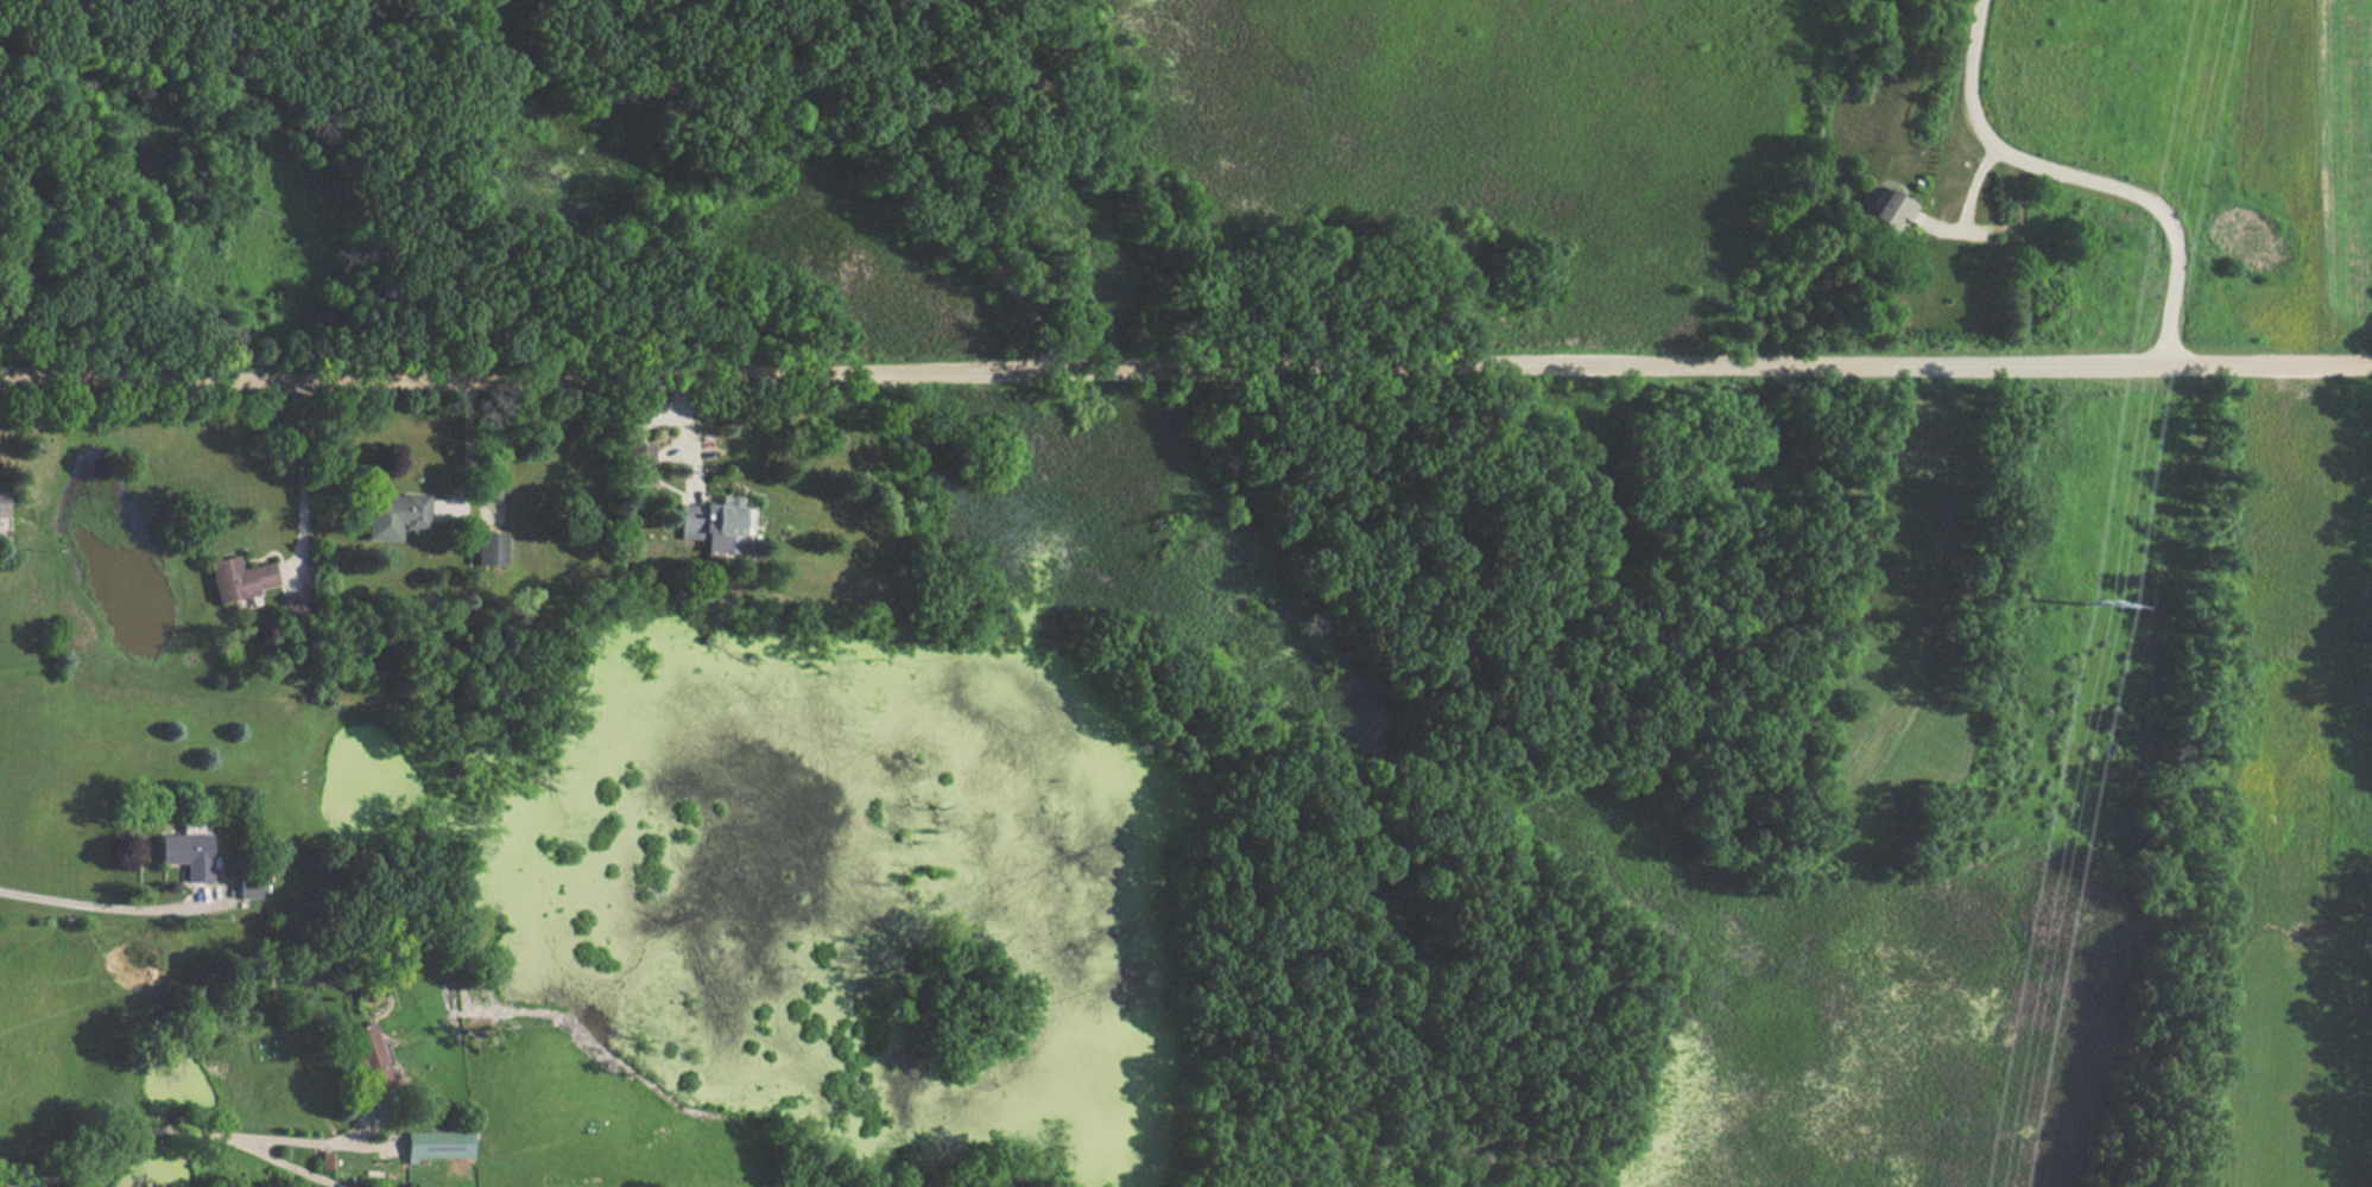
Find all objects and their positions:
road: (367, 5)
road: (2079, 176)
road: (1963, 191)
road: (960, 195)
building: (1880, 211)
road: (1914, 217)
road: (1924, 224)
road: (1185, 370)
building: (631, 462)
road: (303, 471)
building: (392, 515)
building: (703, 521)
building: (485, 548)
building: (235, 578)
power tower: (2087, 615)
building: (181, 853)
building: (246, 888)
road: (96, 904)
building: (360, 1056)
road: (171, 1129)
building: (434, 1145)
road: (277, 1157)

